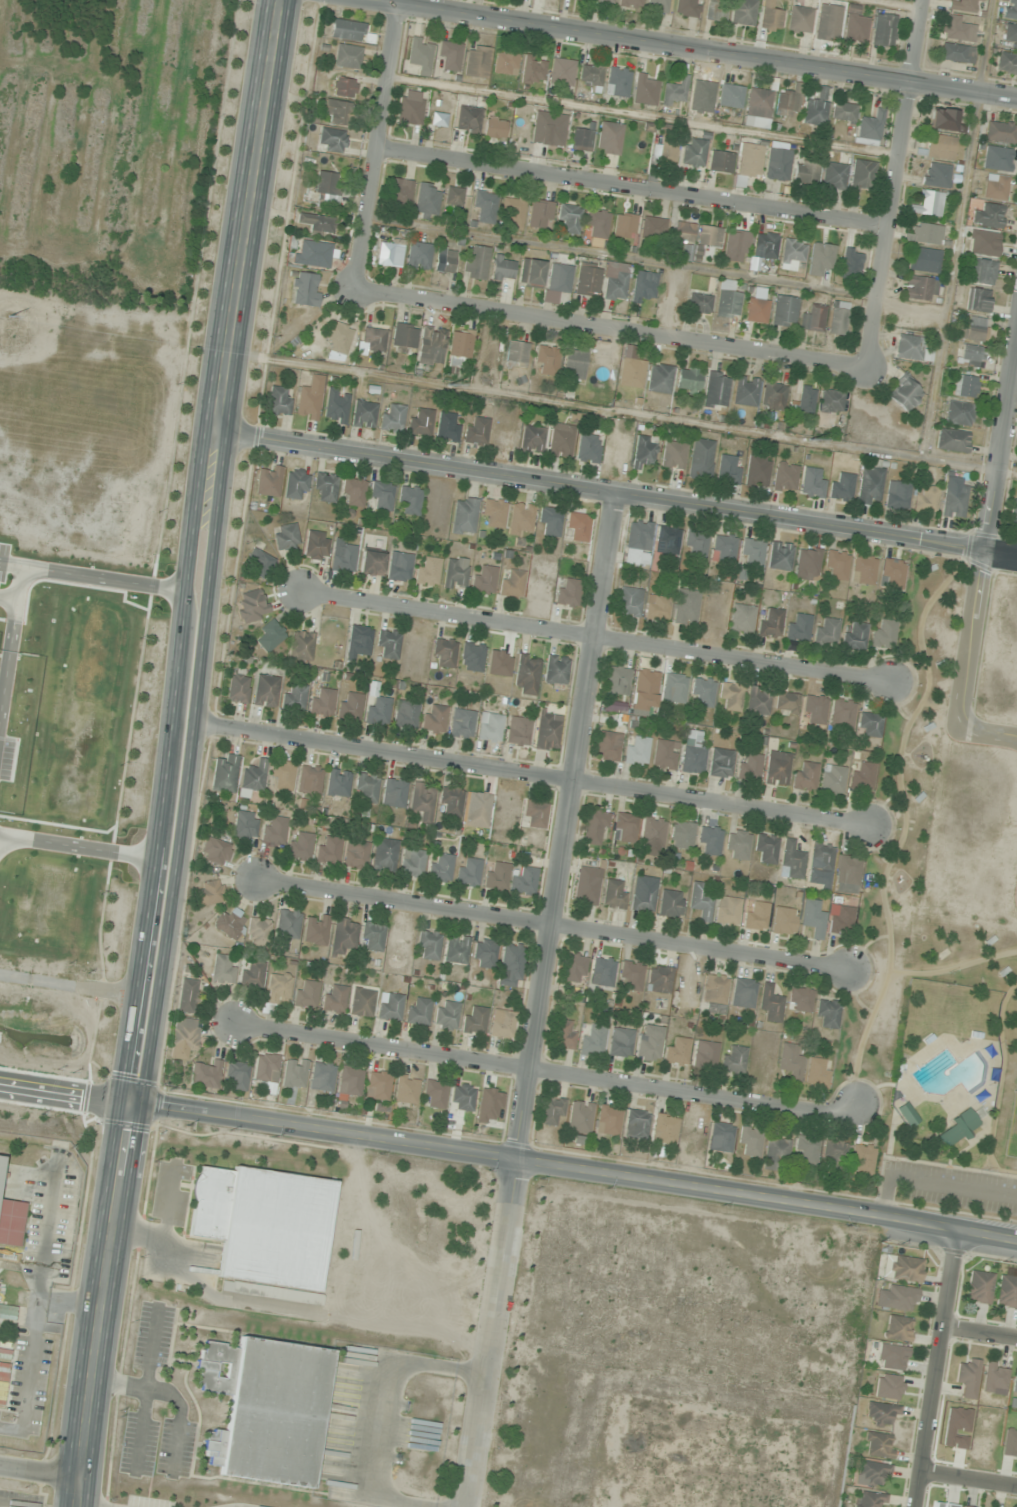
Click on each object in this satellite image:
building: (603, 1)
building: (630, 3)
building: (656, 6)
building: (964, 6)
building: (686, 8)
building: (715, 11)
building: (1010, 11)
building: (743, 12)
building: (770, 17)
building: (799, 19)
building: (827, 22)
building: (855, 26)
building: (956, 29)
building: (348, 30)
building: (883, 30)
building: (1010, 35)
road: (687, 51)
building: (420, 53)
building: (956, 53)
building: (348, 56)
building: (449, 56)
building: (477, 62)
building: (505, 63)
building: (1006, 63)
building: (533, 71)
building: (561, 71)
building: (590, 75)
building: (617, 82)
building: (344, 87)
building: (645, 90)
building: (674, 93)
building: (730, 96)
building: (788, 102)
building: (410, 107)
building: (757, 108)
building: (815, 109)
building: (337, 112)
building: (843, 112)
building: (438, 119)
building: (468, 119)
building: (943, 120)
building: (493, 129)
building: (867, 130)
building: (553, 131)
building: (1000, 132)
building: (581, 138)
building: (608, 138)
building: (331, 140)
road: (379, 143)
building: (939, 147)
building: (664, 151)
building: (694, 151)
building: (994, 158)
building: (749, 160)
building: (720, 162)
building: (777, 164)
building: (805, 172)
building: (833, 175)
building: (936, 175)
building: (861, 176)
road: (896, 185)
building: (327, 187)
building: (995, 187)
road: (634, 189)
building: (399, 192)
building: (453, 196)
building: (426, 201)
building: (927, 205)
building: (484, 206)
building: (512, 213)
building: (540, 214)
building: (988, 215)
building: (568, 218)
building: (596, 223)
building: (624, 225)
building: (652, 228)
building: (682, 232)
building: (925, 233)
building: (708, 237)
building: (983, 243)
building: (735, 246)
building: (765, 246)
building: (389, 253)
building: (792, 253)
building: (312, 254)
building: (418, 256)
building: (923, 260)
building: (444, 261)
building: (475, 262)
building: (502, 269)
building: (530, 272)
building: (981, 272)
building: (559, 278)
building: (587, 282)
building: (643, 286)
building: (615, 287)
building: (920, 289)
building: (305, 290)
building: (978, 300)
building: (698, 303)
building: (727, 304)
building: (756, 310)
building: (784, 311)
building: (812, 318)
building: (837, 318)
road: (613, 329)
building: (973, 330)
building: (403, 337)
building: (338, 338)
building: (373, 340)
building: (431, 346)
building: (459, 348)
building: (911, 348)
building: (516, 354)
building: (969, 356)
building: (546, 360)
building: (573, 364)
building: (631, 373)
building: (659, 379)
building: (688, 380)
building: (966, 386)
building: (716, 390)
building: (745, 391)
building: (904, 394)
building: (773, 396)
building: (805, 399)
building: (279, 401)
building: (831, 401)
building: (308, 403)
building: (336, 406)
building: (959, 413)
building: (363, 414)
building: (391, 418)
building: (419, 422)
building: (447, 427)
building: (476, 430)
building: (532, 439)
building: (561, 440)
building: (952, 440)
building: (587, 449)
building: (644, 451)
building: (673, 455)
building: (701, 458)
road: (1002, 459)
road: (423, 467)
building: (728, 470)
building: (757, 473)
building: (785, 478)
building: (269, 482)
building: (813, 483)
building: (296, 485)
building: (870, 486)
building: (325, 487)
building: (841, 487)
building: (353, 493)
building: (382, 494)
building: (897, 495)
building: (925, 500)
building: (410, 501)
building: (954, 503)
building: (493, 513)
building: (1014, 515)
building: (464, 516)
building: (521, 516)
building: (550, 521)
road: (803, 525)
building: (578, 527)
building: (286, 537)
building: (667, 541)
building: (697, 542)
building: (638, 543)
building: (316, 545)
building: (724, 548)
road: (211, 551)
building: (752, 552)
road: (1002, 554)
building: (780, 557)
building: (342, 560)
building: (807, 562)
building: (258, 563)
building: (370, 564)
building: (837, 566)
building: (398, 569)
building: (863, 570)
building: (427, 572)
building: (456, 573)
building: (892, 574)
building: (483, 580)
building: (511, 584)
building: (568, 593)
building: (630, 601)
building: (252, 605)
building: (686, 607)
building: (657, 608)
building: (742, 619)
building: (770, 622)
building: (798, 627)
building: (826, 631)
building: (268, 636)
building: (855, 636)
building: (358, 642)
road: (599, 642)
building: (387, 644)
building: (301, 646)
building: (444, 653)
building: (472, 657)
road: (968, 663)
building: (556, 670)
building: (526, 675)
building: (617, 680)
building: (646, 684)
building: (675, 687)
building: (237, 689)
building: (265, 691)
building: (703, 691)
building: (293, 697)
building: (731, 697)
building: (758, 701)
building: (321, 702)
building: (786, 703)
building: (349, 706)
building: (814, 710)
building: (377, 711)
building: (842, 713)
building: (405, 715)
building: (433, 718)
building: (461, 724)
building: (869, 724)
building: (490, 728)
building: (517, 731)
building: (547, 732)
building: (607, 746)
building: (635, 751)
building: (691, 751)
building: (663, 755)
building: (720, 763)
building: (748, 767)
building: (776, 768)
building: (224, 774)
building: (282, 775)
road: (531, 775)
building: (862, 775)
building: (804, 776)
building: (252, 778)
building: (832, 779)
building: (309, 781)
building: (337, 783)
building: (366, 788)
building: (393, 793)
building: (422, 801)
building: (450, 802)
building: (477, 806)
building: (534, 814)
building: (595, 824)
building: (244, 826)
building: (624, 828)
building: (273, 830)
road: (565, 830)
building: (652, 832)
building: (680, 835)
building: (708, 841)
building: (736, 844)
building: (299, 847)
building: (764, 849)
building: (327, 850)
building: (214, 852)
building: (355, 854)
building: (384, 856)
building: (820, 858)
building: (790, 860)
building: (411, 863)
building: (440, 868)
building: (468, 872)
building: (846, 874)
building: (496, 876)
building: (524, 881)
building: (587, 886)
building: (208, 894)
building: (613, 895)
building: (642, 898)
building: (699, 902)
building: (669, 904)
building: (726, 911)
building: (754, 916)
building: (811, 918)
building: (840, 920)
building: (782, 921)
building: (228, 924)
building: (287, 924)
road: (556, 928)
building: (315, 930)
building: (257, 933)
building: (342, 936)
building: (372, 937)
building: (428, 946)
building: (456, 949)
building: (484, 953)
building: (510, 966)
building: (222, 969)
building: (574, 969)
building: (602, 971)
building: (631, 975)
building: (250, 976)
building: (658, 979)
building: (277, 988)
building: (714, 993)
building: (743, 993)
building: (306, 994)
building: (186, 996)
building: (333, 999)
building: (799, 1000)
building: (361, 1002)
building: (769, 1004)
building: (390, 1007)
building: (418, 1012)
building: (826, 1013)
building: (446, 1016)
building: (474, 1020)
building: (502, 1025)
building: (184, 1034)
building: (564, 1034)
building: (620, 1042)
building: (591, 1043)
building: (648, 1047)
building: (676, 1051)
building: (704, 1055)
building: (733, 1059)
building: (790, 1062)
road: (540, 1070)
building: (267, 1072)
building: (816, 1072)
building: (294, 1073)
building: (205, 1075)
building: (237, 1076)
building: (322, 1077)
building: (349, 1082)
building: (378, 1086)
building: (406, 1090)
building: (434, 1094)
building: (461, 1097)
traffic signals: (132, 1103)
building: (489, 1106)
building: (552, 1111)
building: (905, 1115)
building: (580, 1117)
building: (608, 1120)
building: (637, 1124)
park: (1012, 1126)
building: (664, 1129)
building: (956, 1129)
road: (324, 1133)
building: (720, 1138)
building: (750, 1141)
building: (806, 1150)
building: (775, 1153)
building: (833, 1153)
building: (0, 1159)
building: (862, 1159)
road: (767, 1200)
building: (11, 1222)
building: (263, 1224)
building: (902, 1269)
building: (978, 1287)
building: (246, 1289)
building: (1006, 1292)
building: (896, 1299)
road: (97, 1304)
building: (898, 1328)
road: (979, 1331)
road: (492, 1335)
building: (892, 1357)
road: (935, 1368)
building: (967, 1377)
building: (995, 1379)
building: (1014, 1382)
building: (888, 1387)
road: (144, 1389)
road: (169, 1395)
building: (265, 1410)
building: (880, 1414)
building: (878, 1445)
road: (38, 1471)
building: (872, 1473)
road: (968, 1476)
building: (868, 1500)
building: (963, 1506)

